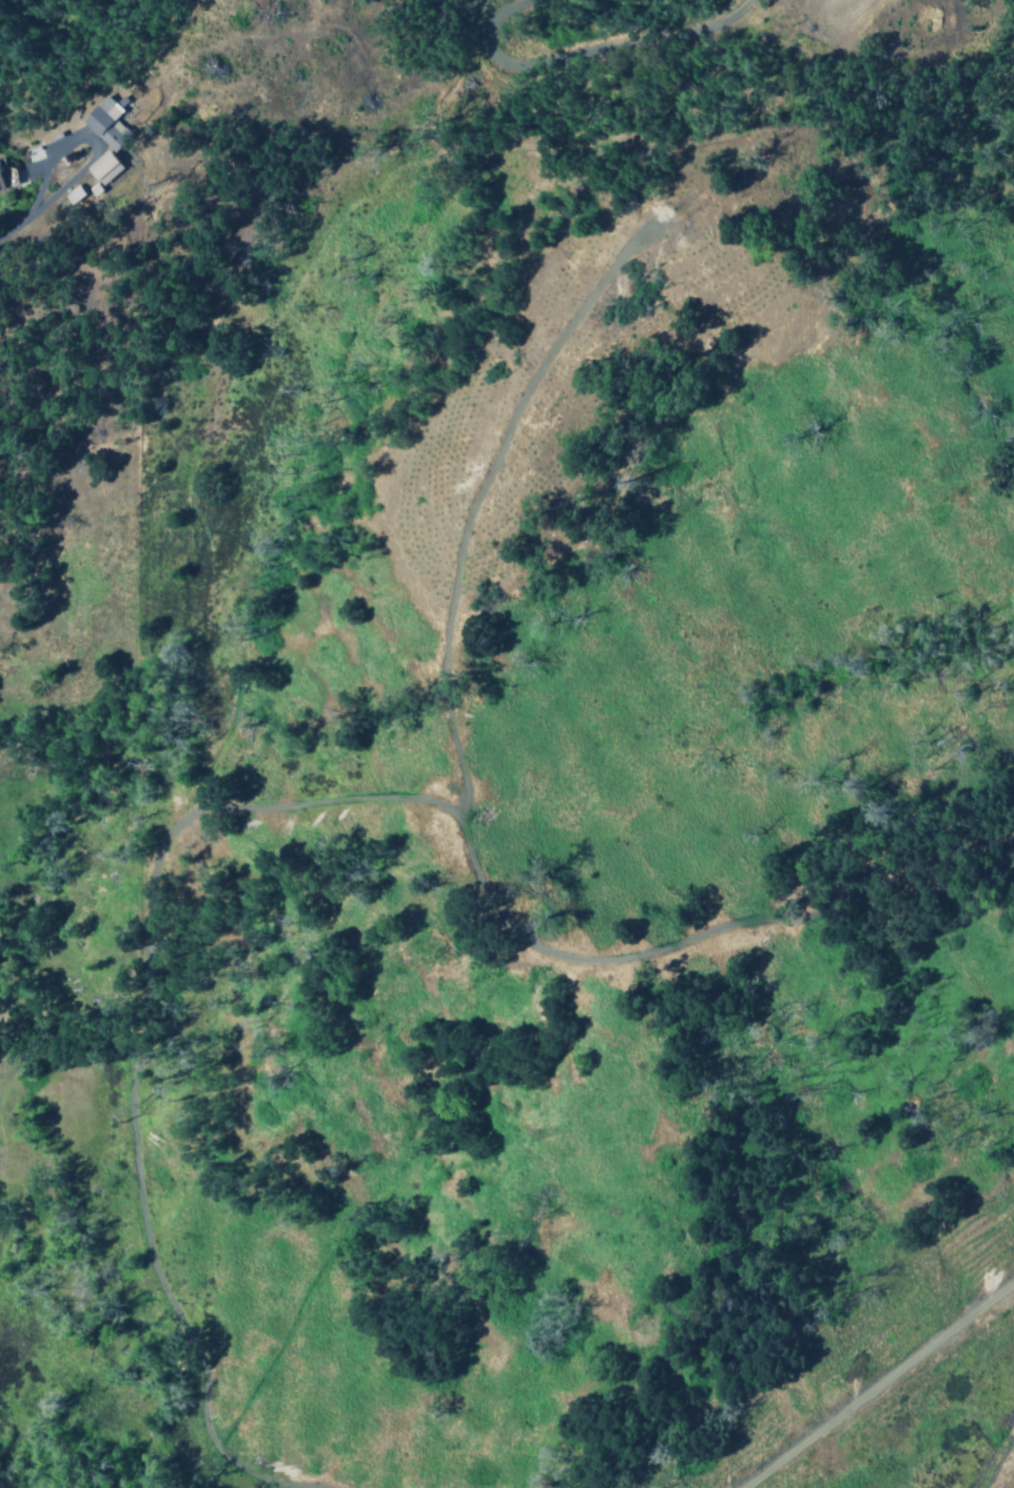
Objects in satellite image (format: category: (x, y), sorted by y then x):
road: (488, 16)
road: (612, 40)
building: (95, 119)
road: (89, 140)
road: (621, 142)
building: (94, 164)
building: (66, 192)
road: (12, 232)
road: (312, 428)
road: (296, 805)
road: (709, 933)
road: (878, 1385)

